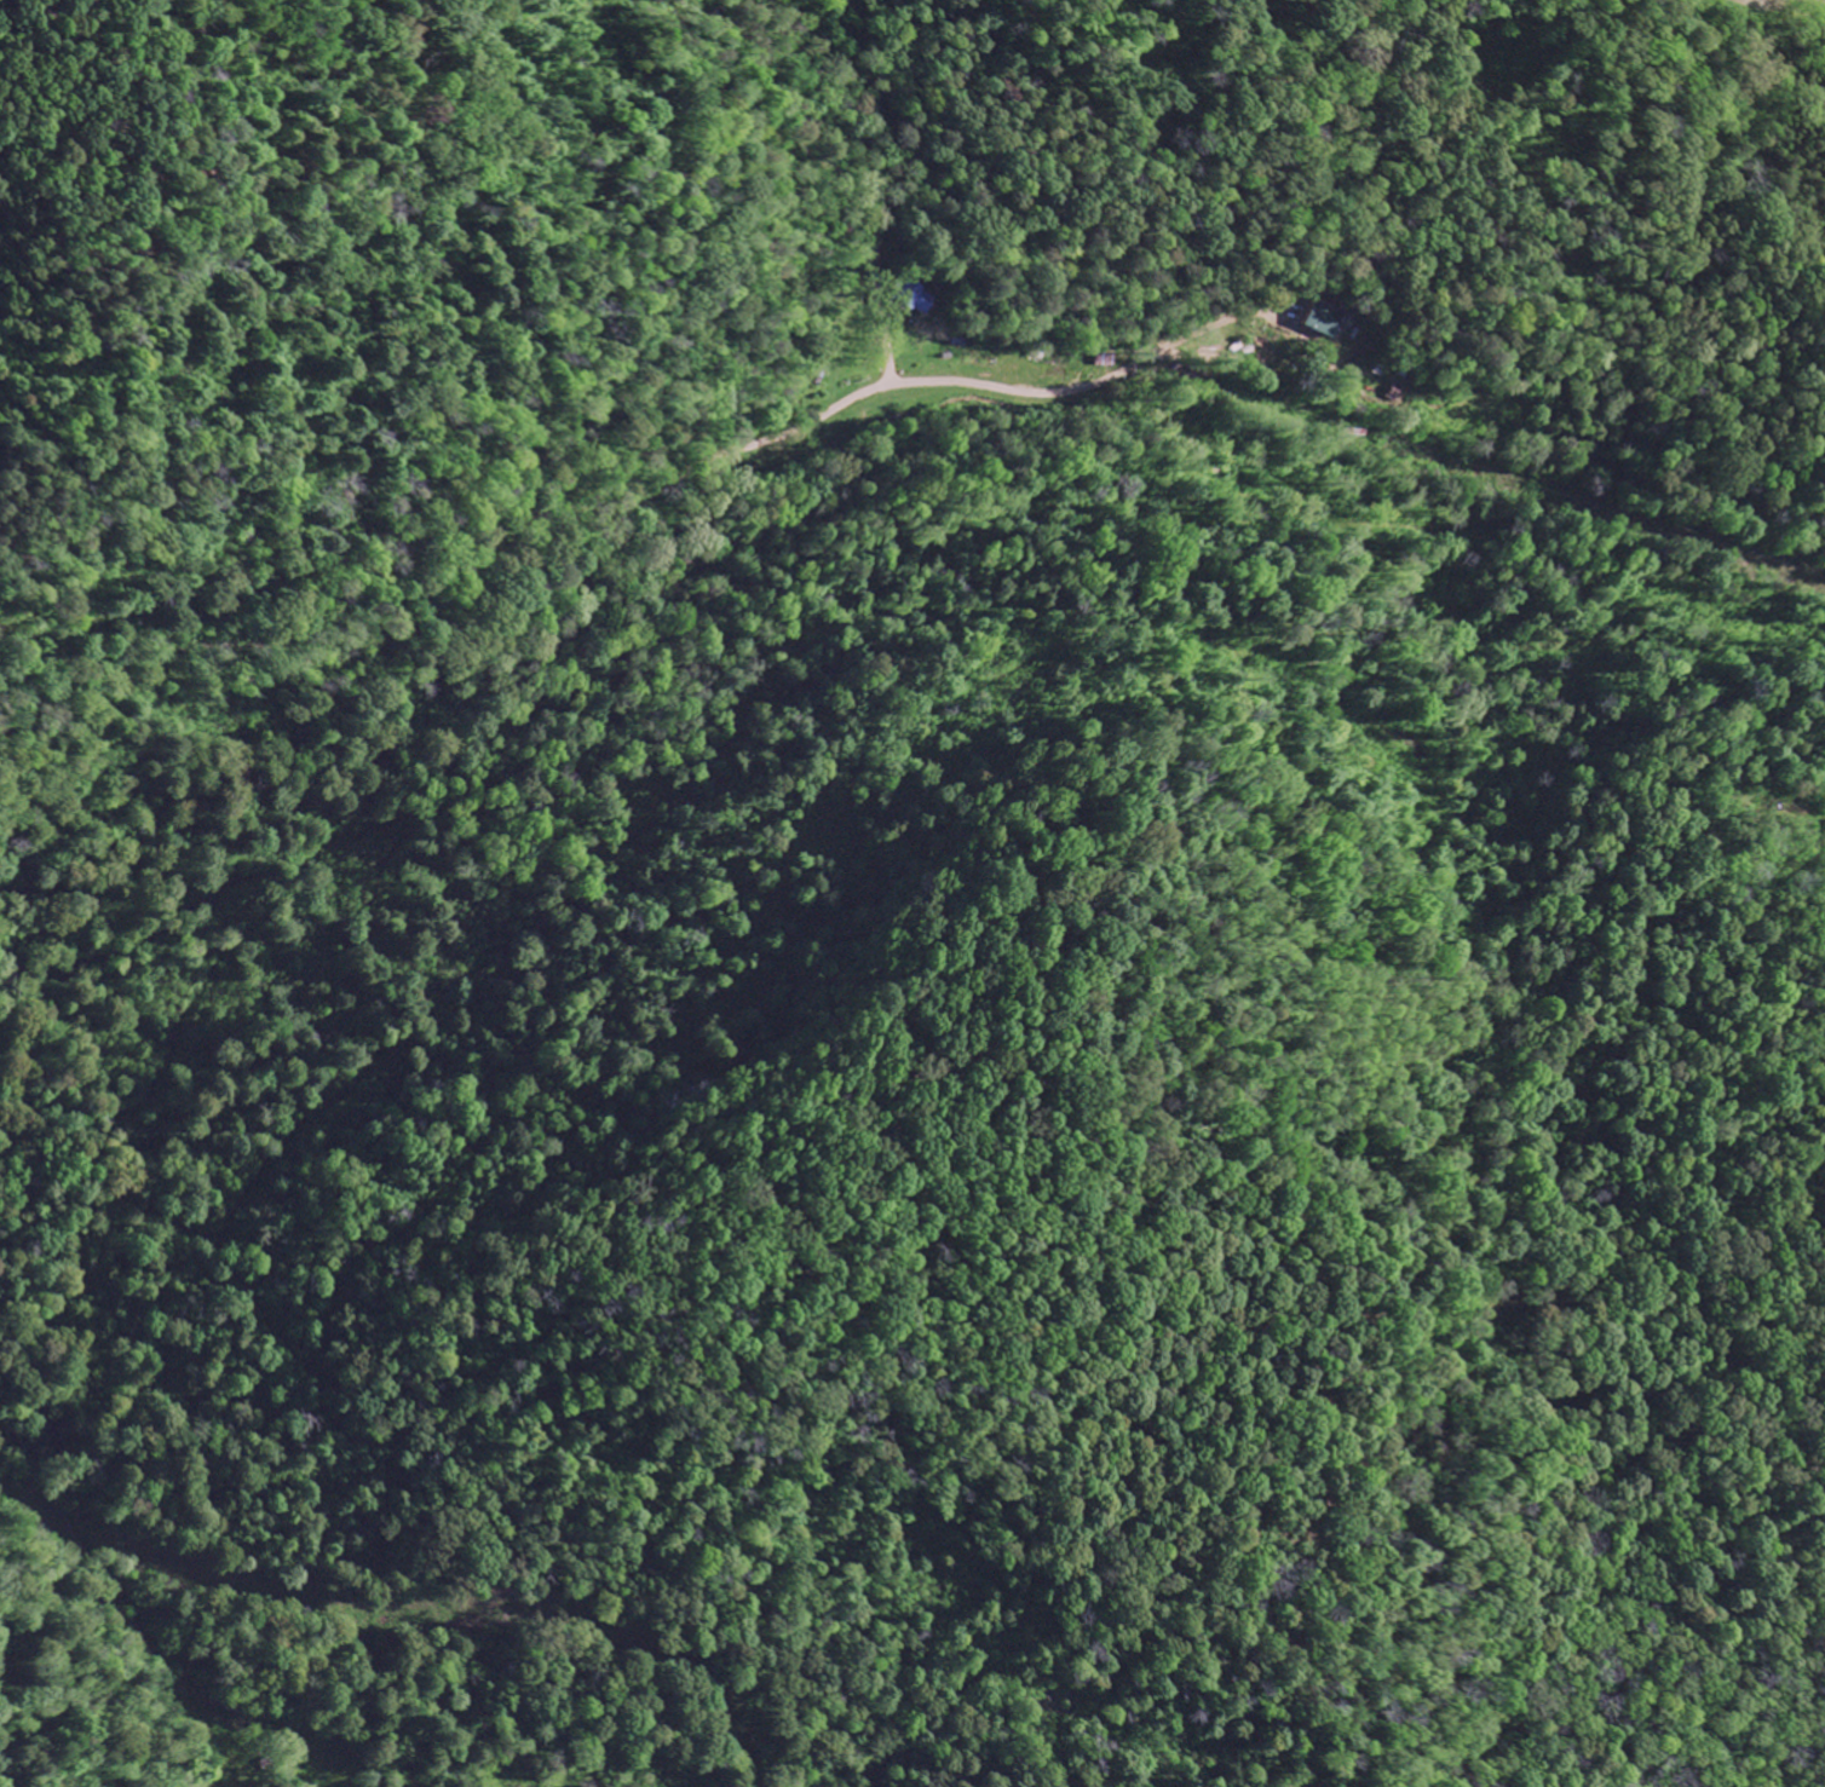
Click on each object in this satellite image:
building: (1311, 323)
road: (1560, 471)
road: (649, 492)
road: (167, 1668)

